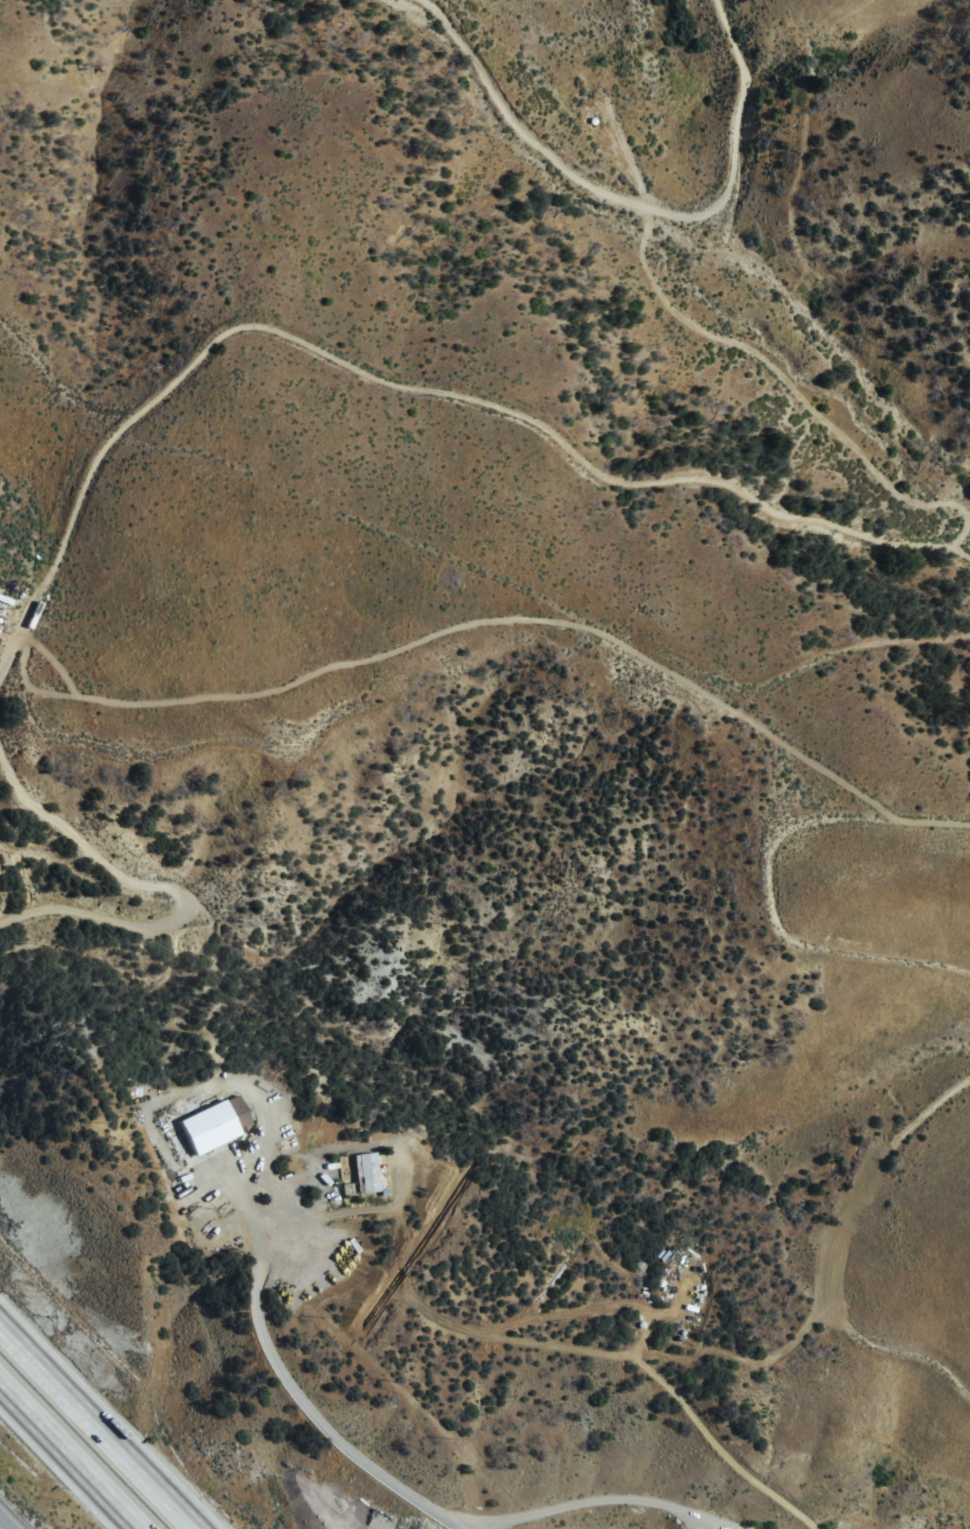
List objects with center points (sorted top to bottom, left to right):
road: (632, 210)
road: (623, 486)
road: (167, 893)
building: (221, 1127)
building: (375, 1174)
road: (317, 1418)
road: (98, 1426)
road: (69, 1456)
road: (597, 1506)
road: (716, 1520)
road: (6, 1522)

